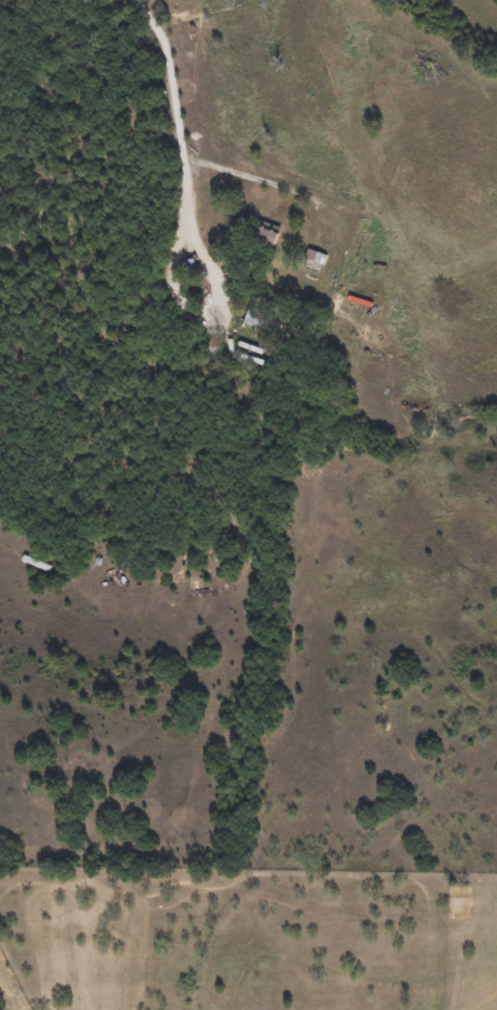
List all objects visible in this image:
road: (178, 113)
building: (267, 233)
building: (313, 260)
building: (256, 317)

